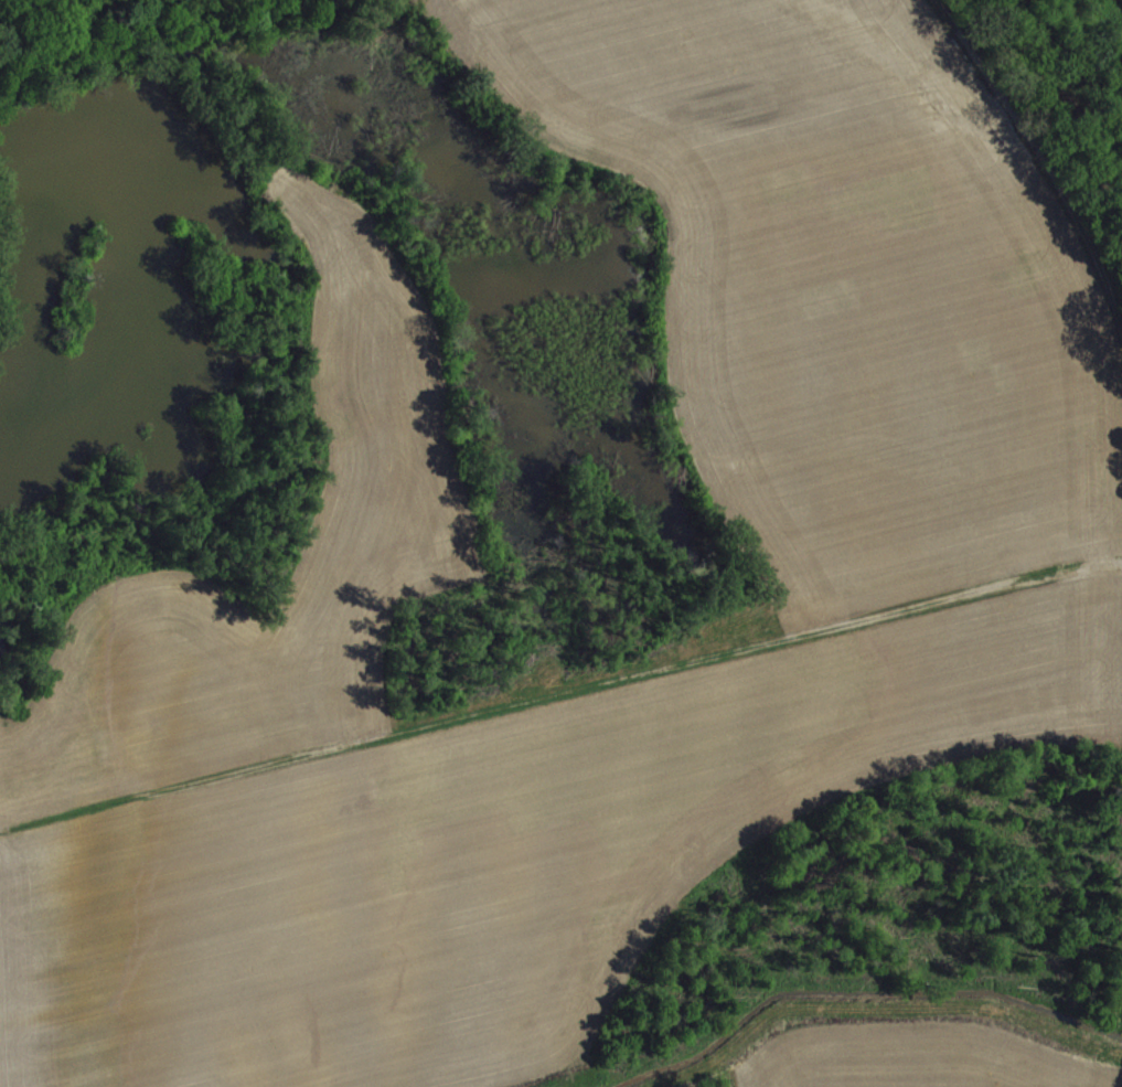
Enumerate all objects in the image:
road: (1009, 132)
road: (1111, 300)

